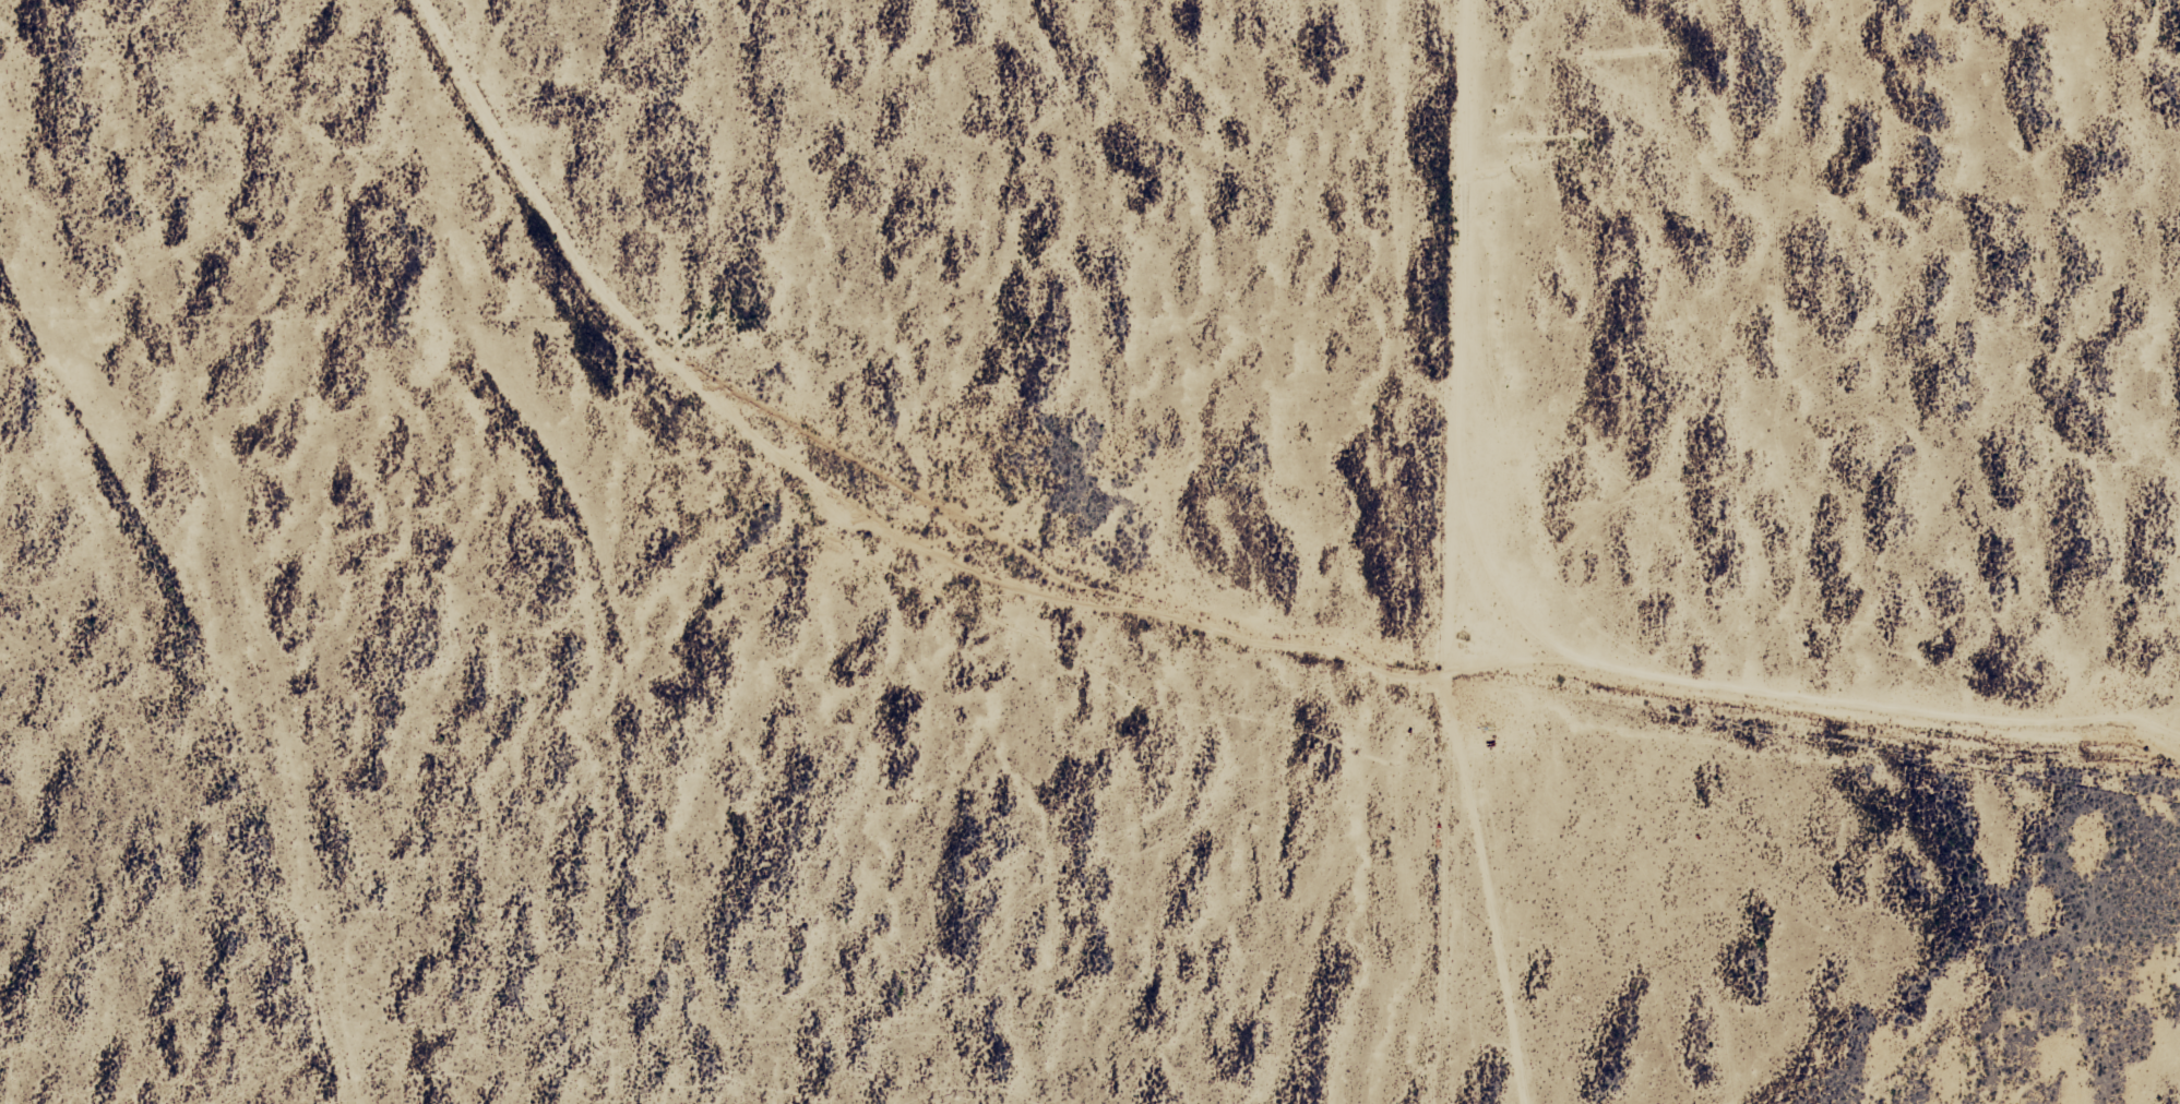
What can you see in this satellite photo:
road: (1160, 597)

